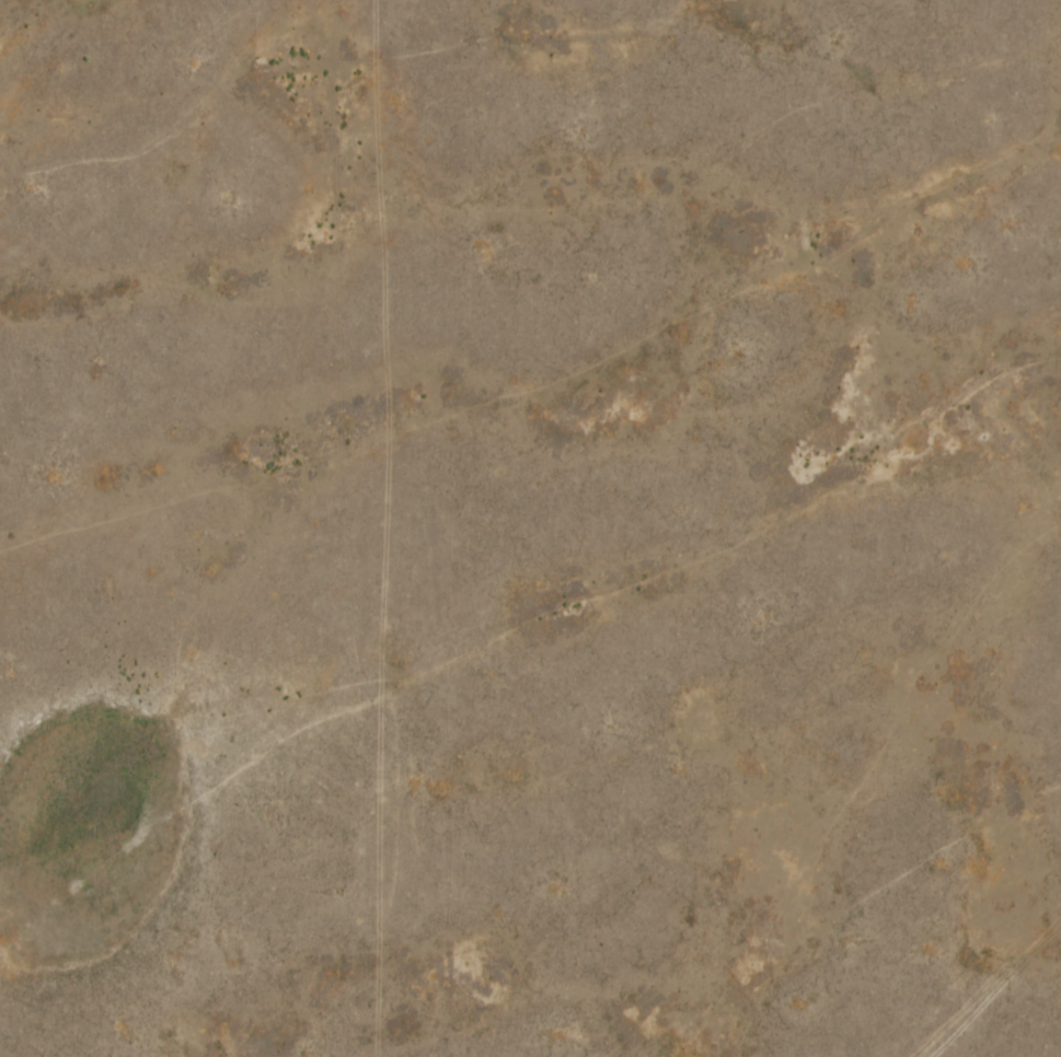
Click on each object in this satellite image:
road: (997, 998)

